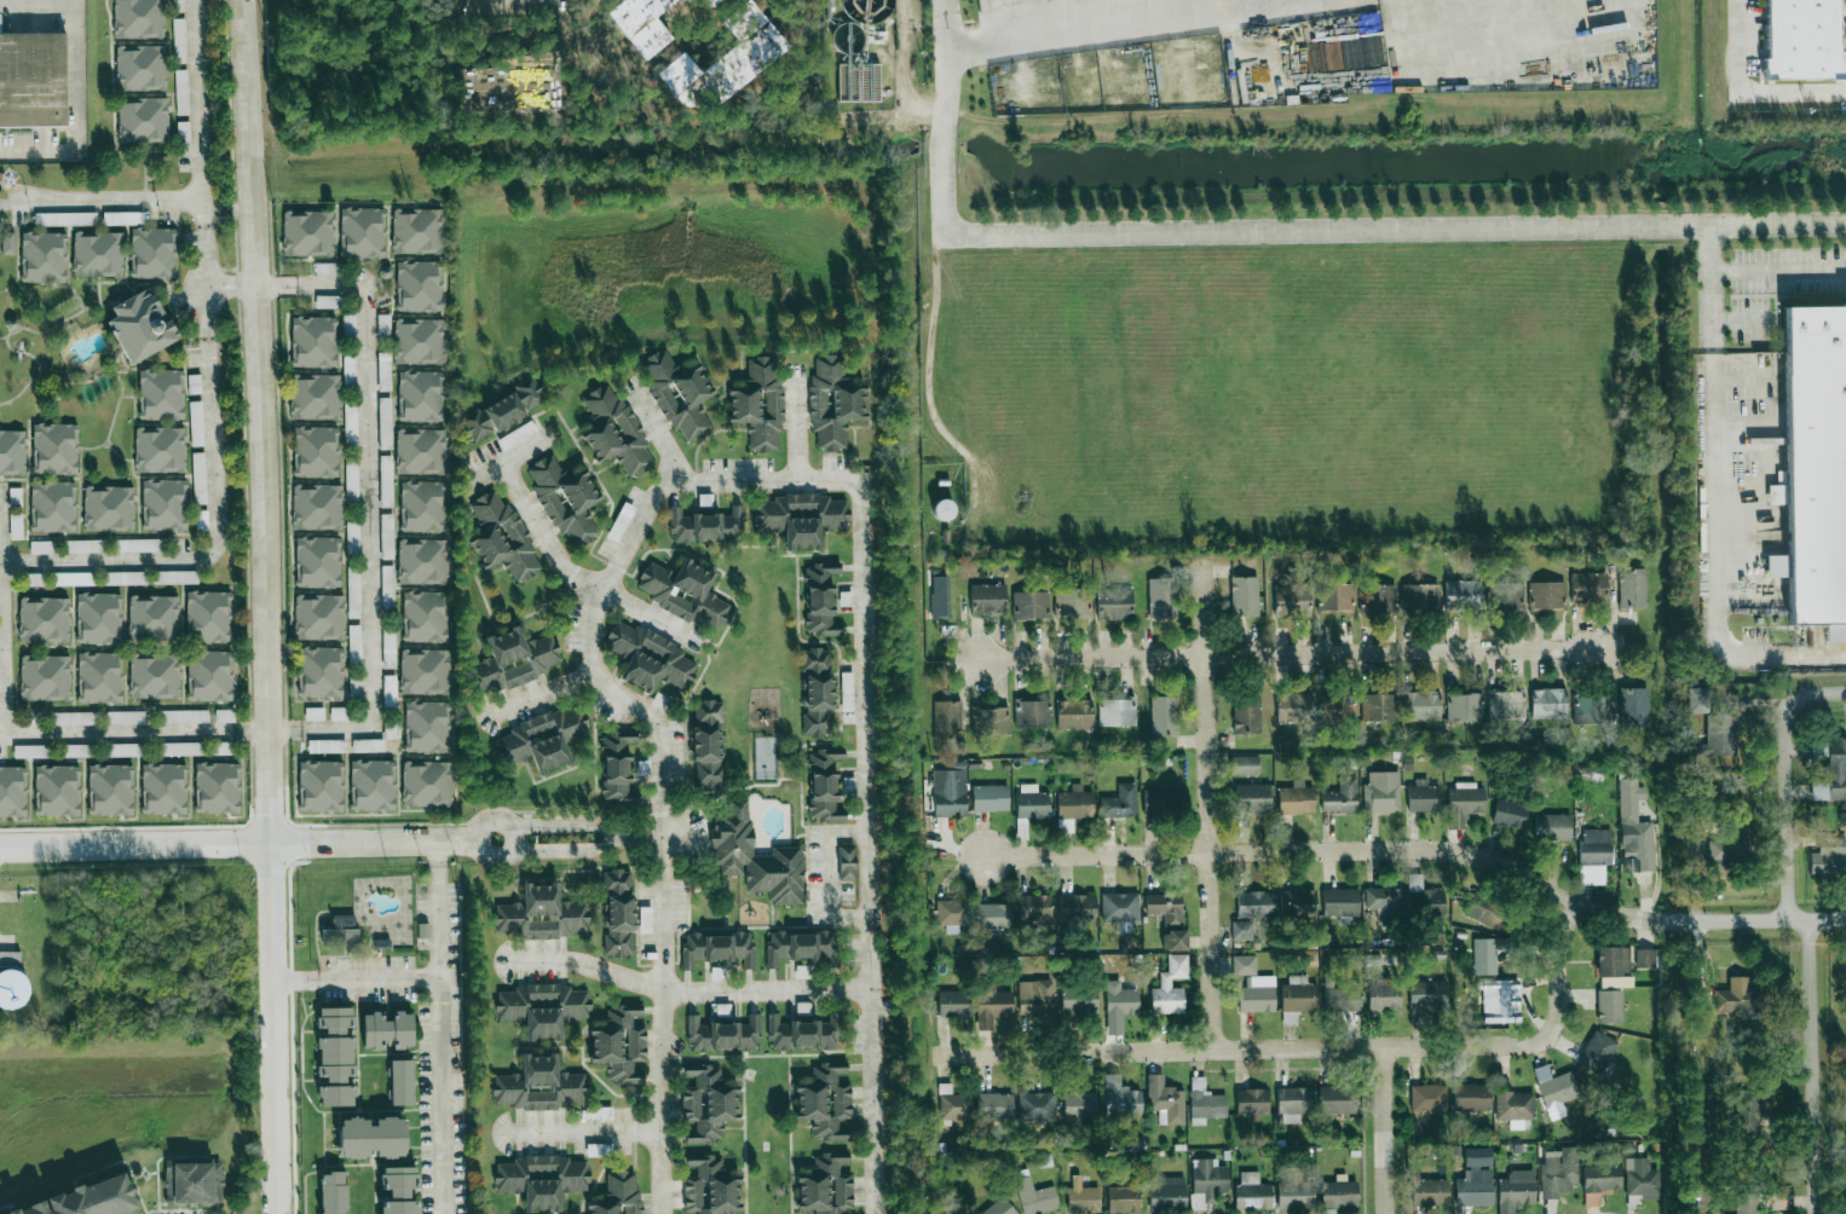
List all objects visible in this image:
road: (560, 1)
road: (462, 5)
building: (135, 19)
road: (1131, 23)
building: (1801, 39)
building: (138, 69)
road: (905, 73)
building: (33, 79)
road: (1753, 87)
road: (76, 108)
building: (140, 121)
road: (105, 200)
building: (415, 231)
building: (359, 232)
road: (1275, 232)
building: (305, 233)
building: (5, 243)
building: (150, 253)
building: (94, 254)
building: (40, 256)
road: (1778, 270)
building: (416, 285)
road: (1712, 288)
building: (324, 301)
road: (1742, 322)
building: (137, 324)
building: (311, 341)
building: (416, 341)
road: (208, 382)
building: (676, 393)
building: (158, 394)
building: (312, 397)
building: (417, 397)
building: (757, 403)
building: (832, 403)
building: (501, 409)
building: (348, 420)
road: (797, 423)
building: (612, 430)
road: (364, 432)
building: (52, 449)
building: (157, 450)
building: (313, 451)
building: (419, 451)
building: (11, 452)
road: (514, 456)
building: (1815, 462)
building: (385, 481)
building: (563, 501)
building: (161, 504)
building: (50, 507)
building: (315, 507)
building: (420, 507)
building: (106, 508)
building: (942, 510)
building: (801, 518)
building: (705, 526)
building: (500, 538)
building: (135, 545)
building: (82, 547)
building: (420, 561)
road: (1717, 561)
building: (316, 562)
road: (579, 577)
building: (123, 578)
building: (174, 578)
building: (1587, 586)
building: (1631, 588)
building: (1461, 589)
building: (681, 592)
building: (1244, 595)
building: (1546, 595)
building: (1505, 596)
building: (1336, 597)
building: (1421, 597)
building: (818, 599)
building: (987, 599)
building: (1161, 599)
building: (1377, 599)
building: (1293, 601)
building: (1073, 603)
building: (1115, 603)
building: (1029, 605)
road: (269, 606)
building: (353, 606)
building: (939, 608)
building: (152, 617)
building: (208, 617)
building: (319, 617)
building: (425, 617)
building: (98, 618)
building: (44, 620)
building: (354, 643)
building: (390, 649)
road: (1294, 653)
building: (650, 658)
building: (514, 659)
building: (425, 670)
road: (1, 671)
building: (321, 671)
building: (209, 675)
building: (99, 676)
building: (154, 676)
building: (45, 677)
building: (847, 690)
building: (815, 692)
road: (543, 693)
road: (1821, 694)
building: (660, 700)
building: (1548, 703)
building: (1506, 704)
building: (1379, 706)
building: (1421, 706)
building: (1465, 706)
road: (864, 707)
building: (1293, 707)
building: (1634, 707)
building: (1339, 709)
building: (1591, 710)
building: (315, 712)
building: (1117, 712)
building: (1033, 713)
building: (1074, 713)
building: (1246, 713)
building: (184, 715)
building: (126, 716)
building: (1163, 716)
building: (75, 717)
building: (947, 718)
building: (991, 721)
building: (427, 725)
building: (1713, 725)
road: (186, 733)
building: (542, 739)
building: (706, 744)
building: (327, 745)
building: (369, 745)
building: (183, 747)
building: (33, 750)
building: (76, 750)
building: (122, 750)
building: (1244, 765)
building: (617, 768)
building: (1830, 770)
building: (427, 782)
building: (821, 784)
building: (373, 785)
building: (321, 786)
building: (217, 787)
building: (110, 788)
building: (163, 788)
building: (57, 790)
building: (12, 791)
building: (948, 793)
building: (1381, 796)
building: (1340, 797)
building: (1629, 797)
building: (988, 798)
building: (1424, 798)
building: (1119, 799)
building: (1250, 799)
building: (1294, 799)
building: (1160, 802)
building: (1032, 804)
building: (1075, 804)
building: (1464, 805)
road: (1208, 808)
road: (1787, 809)
building: (1508, 813)
road: (663, 815)
building: (1695, 825)
road: (481, 826)
road: (570, 827)
building: (1552, 827)
road: (646, 838)
road: (458, 840)
road: (220, 844)
building: (1640, 845)
building: (1596, 846)
road: (1423, 850)
road: (571, 851)
building: (1725, 851)
building: (754, 857)
building: (844, 862)
building: (1828, 863)
road: (831, 877)
building: (1384, 900)
building: (1424, 900)
building: (1299, 902)
building: (1340, 902)
building: (1254, 903)
building: (1120, 907)
building: (1165, 907)
building: (1034, 908)
building: (1078, 908)
building: (1484, 909)
building: (952, 912)
building: (618, 913)
building: (541, 914)
building: (992, 915)
building: (645, 919)
building: (1241, 930)
building: (341, 931)
building: (1173, 940)
building: (796, 946)
building: (716, 948)
building: (1484, 956)
building: (1645, 959)
building: (1611, 962)
building: (11, 978)
road: (358, 979)
building: (1253, 985)
building: (1170, 988)
road: (691, 992)
building: (1343, 994)
building: (1427, 994)
building: (1504, 995)
building: (1384, 996)
building: (1037, 998)
building: (1120, 998)
building: (1299, 998)
building: (1741, 999)
building: (1078, 1000)
building: (952, 1004)
building: (1610, 1004)
building: (992, 1005)
building: (542, 1007)
building: (1290, 1018)
road: (444, 1027)
building: (388, 1030)
building: (803, 1033)
building: (722, 1035)
building: (619, 1044)
building: (1598, 1050)
road: (1355, 1051)
building: (336, 1056)
road: (975, 1056)
road: (1811, 1068)
building: (402, 1081)
building: (540, 1085)
building: (1557, 1089)
building: (1471, 1097)
building: (1165, 1099)
building: (1336, 1099)
building: (1429, 1099)
building: (823, 1100)
building: (1293, 1100)
building: (1120, 1102)
building: (1252, 1102)
building: (705, 1103)
building: (1078, 1105)
building: (1208, 1105)
building: (1515, 1105)
building: (956, 1106)
building: (996, 1106)
building: (1039, 1106)
building: (1747, 1110)
road: (588, 1132)
road: (1383, 1132)
building: (371, 1138)
building: (1558, 1172)
building: (1642, 1178)
building: (541, 1179)
building: (1602, 1179)
building: (1207, 1180)
building: (192, 1184)
building: (824, 1184)
building: (706, 1185)
building: (398, 1189)
building: (1293, 1189)
building: (1253, 1190)
building: (1473, 1190)
building: (1080, 1191)
building: (1515, 1191)
building: (333, 1192)
building: (1430, 1192)
building: (1167, 1193)
building: (619, 1195)
building: (1338, 1195)
building: (1036, 1197)
building: (1123, 1197)
building: (1698, 1198)
building: (86, 1199)
building: (998, 1208)
building: (1754, 1208)

